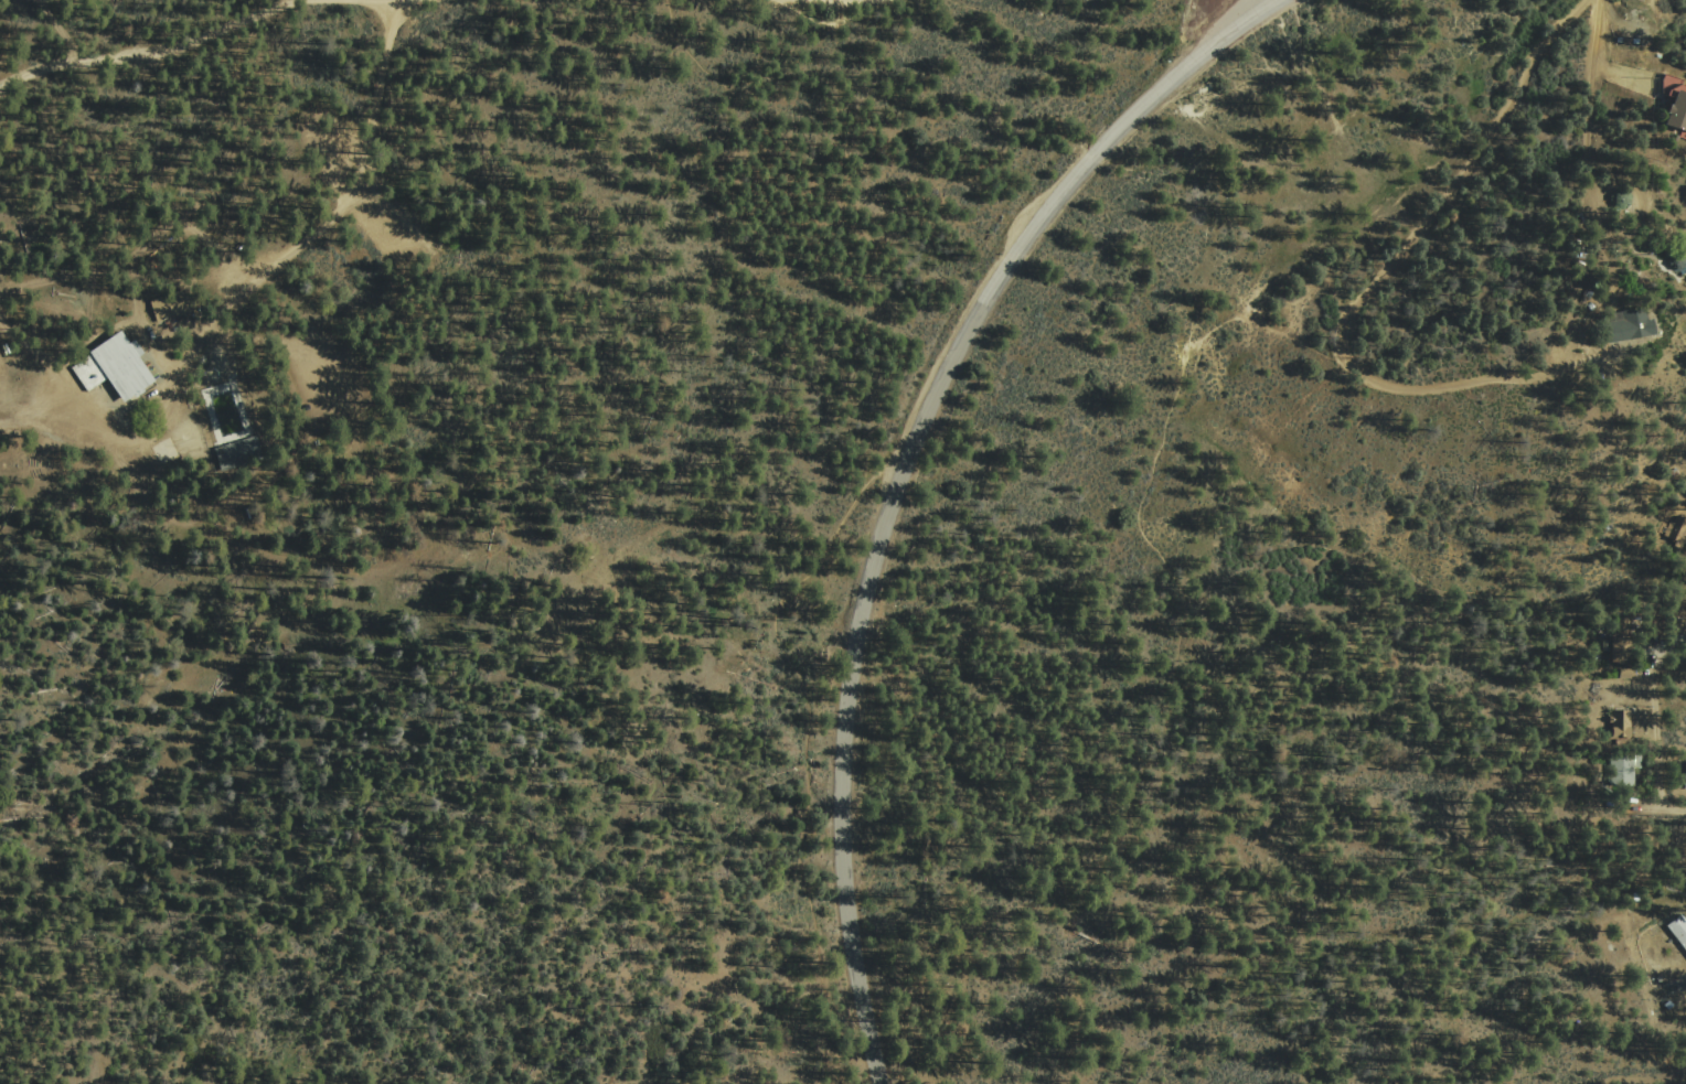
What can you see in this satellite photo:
road: (850, 0)
road: (1266, 3)
road: (61, 28)
road: (167, 49)
road: (1621, 50)
building: (1677, 95)
road: (1369, 289)
road: (234, 301)
building: (174, 305)
building: (1633, 326)
building: (118, 368)
building: (232, 420)
building: (164, 452)
road: (901, 475)
road: (839, 538)
building: (1614, 654)
building: (1618, 720)
road: (1660, 738)
building: (1621, 766)
building: (1683, 772)
building: (1677, 929)

